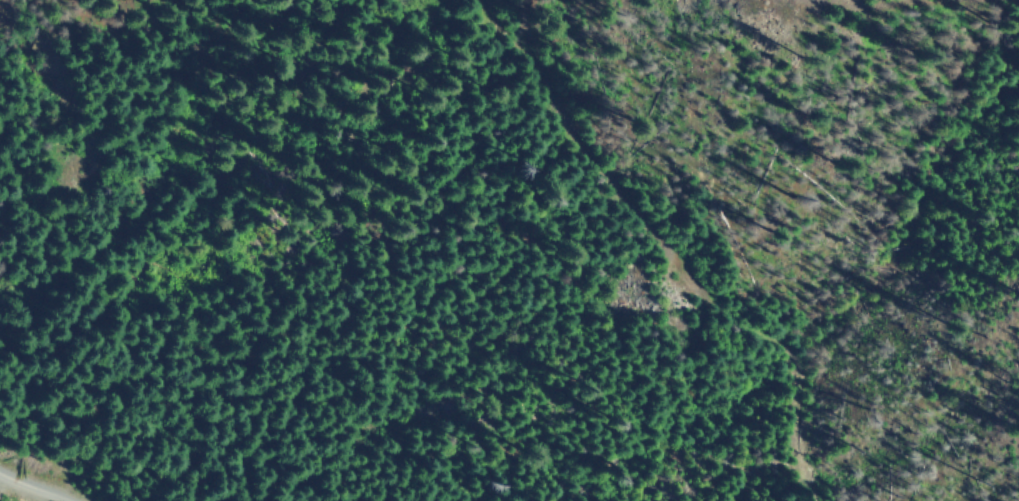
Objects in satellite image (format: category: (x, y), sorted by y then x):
road: (43, 482)

